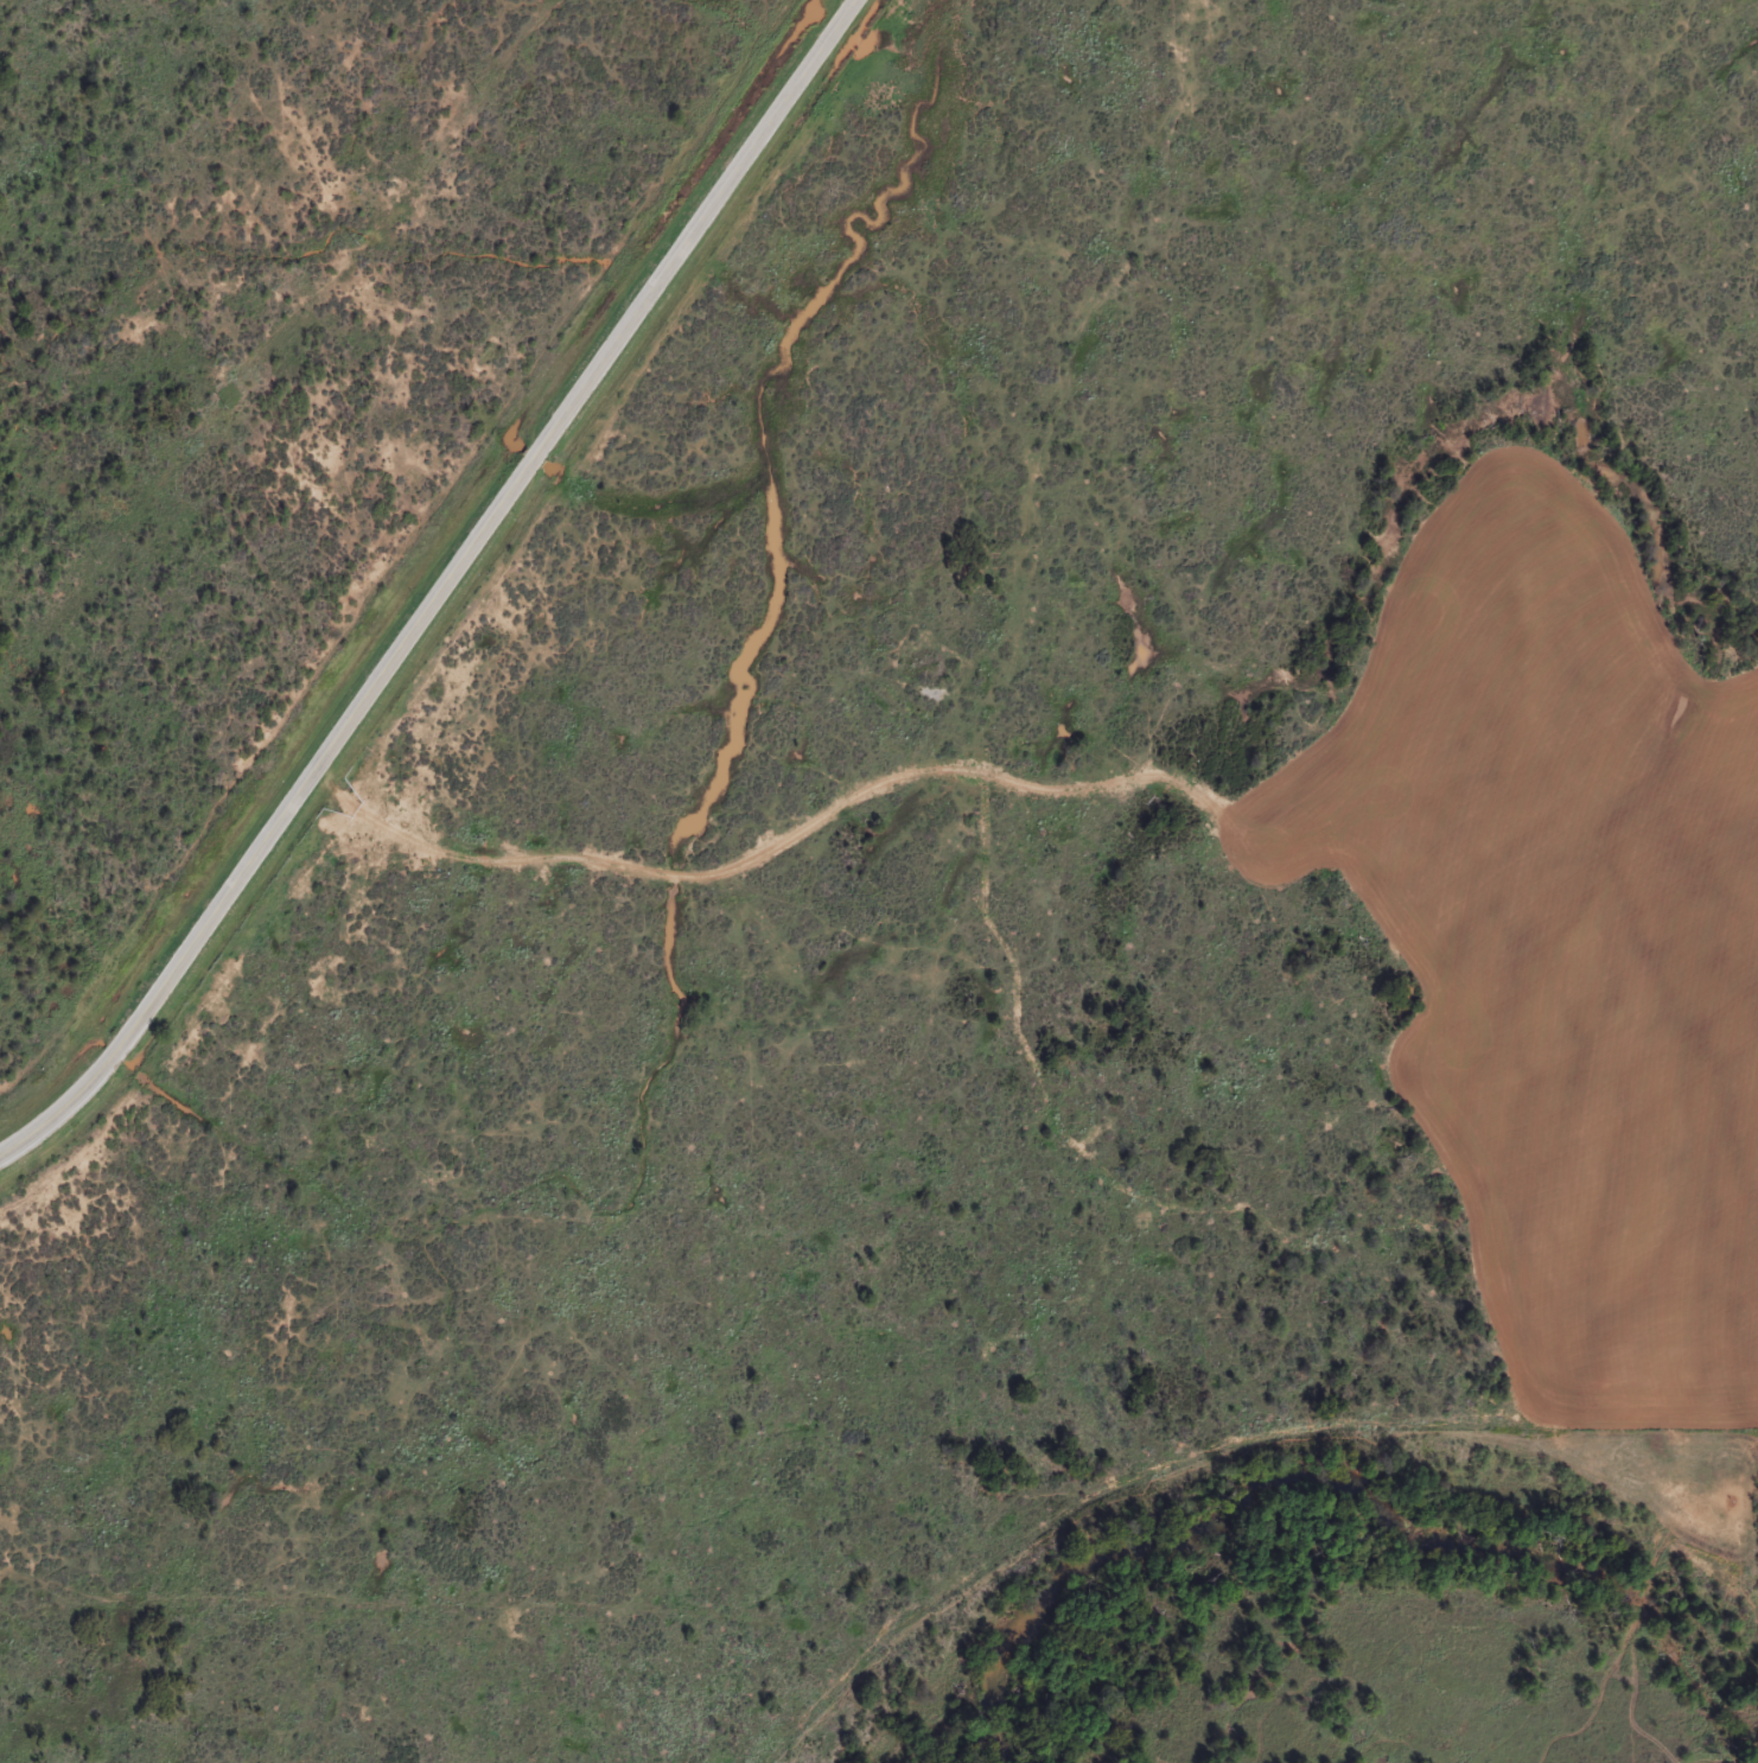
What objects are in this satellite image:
road: (442, 592)
road: (1139, 1466)

